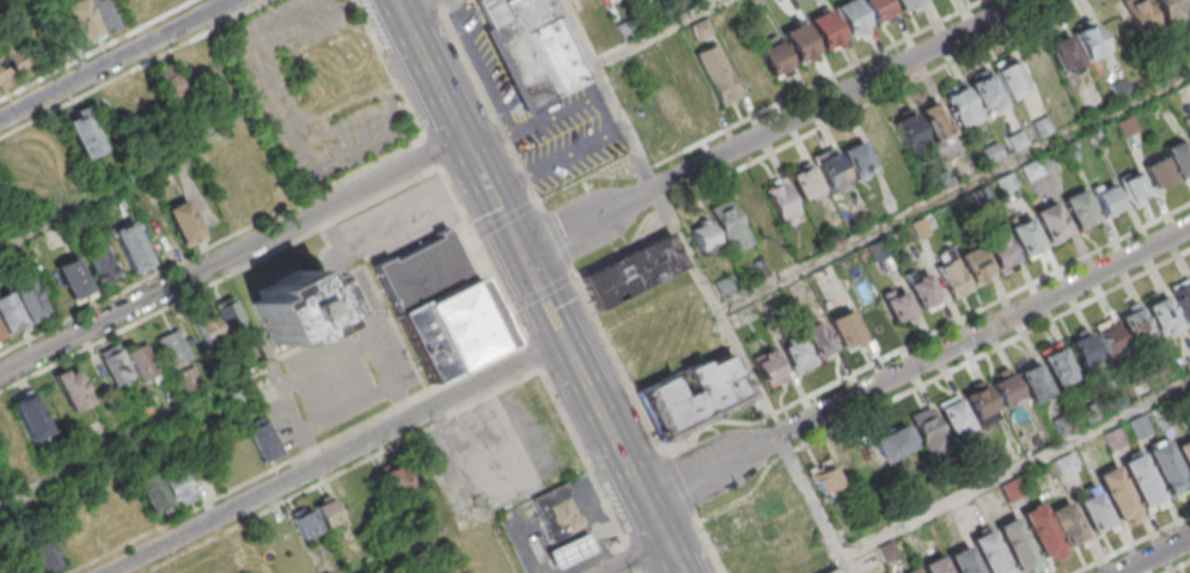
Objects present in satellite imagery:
building: (700, 0)
building: (582, 4)
road: (413, 5)
building: (907, 5)
road: (456, 6)
building: (1170, 10)
building: (878, 12)
building: (92, 18)
building: (1141, 19)
building: (852, 22)
building: (698, 30)
building: (825, 33)
building: (1087, 37)
building: (535, 45)
building: (800, 47)
building: (1186, 53)
building: (1062, 54)
road: (116, 60)
building: (773, 61)
building: (13, 62)
road: (428, 67)
building: (745, 68)
building: (716, 75)
road: (819, 84)
building: (167, 85)
building: (1119, 87)
parking lot: (316, 89)
building: (984, 89)
building: (696, 97)
building: (667, 103)
road: (871, 104)
building: (959, 108)
parking lot: (543, 116)
building: (933, 121)
building: (1125, 124)
road: (776, 129)
building: (908, 129)
building: (1189, 132)
building: (83, 133)
building: (855, 154)
building: (1179, 158)
building: (828, 165)
road: (273, 171)
building: (1159, 171)
building: (804, 178)
road: (124, 184)
building: (1133, 184)
road: (954, 193)
road: (490, 196)
building: (1106, 199)
building: (768, 206)
building: (1079, 206)
building: (1049, 219)
building: (728, 227)
building: (171, 228)
building: (1024, 233)
building: (701, 237)
building: (130, 246)
building: (1000, 251)
road: (230, 255)
traffic signals: (520, 256)
building: (102, 258)
building: (974, 263)
building: (630, 270)
building: (952, 276)
building: (72, 279)
road: (580, 286)
road: (704, 286)
building: (922, 289)
building: (1182, 298)
building: (897, 304)
building: (439, 305)
building: (292, 306)
road: (356, 306)
building: (19, 309)
building: (1158, 310)
building: (216, 319)
building: (1134, 323)
building: (846, 329)
road: (927, 336)
building: (1107, 336)
building: (172, 346)
building: (806, 346)
building: (1081, 347)
road: (990, 350)
building: (142, 362)
building: (115, 364)
road: (916, 364)
building: (767, 367)
building: (1057, 367)
building: (1030, 374)
road: (391, 377)
building: (1003, 386)
building: (71, 388)
building: (694, 397)
building: (976, 398)
road: (349, 407)
building: (951, 412)
road: (599, 414)
building: (30, 416)
building: (927, 429)
road: (120, 439)
building: (263, 439)
building: (891, 440)
building: (1184, 453)
road: (334, 455)
building: (1165, 465)
road: (1014, 467)
building: (393, 478)
building: (1140, 478)
building: (824, 480)
building: (177, 488)
building: (1115, 492)
building: (152, 493)
building: (1093, 508)
building: (556, 511)
building: (315, 517)
building: (1064, 523)
building: (1039, 530)
building: (1014, 543)
road: (1130, 543)
building: (570, 549)
road: (396, 553)
building: (988, 553)
road: (1153, 554)
building: (47, 556)
road: (634, 557)
building: (962, 562)
building: (933, 565)
road: (1179, 567)
building: (836, 572)

